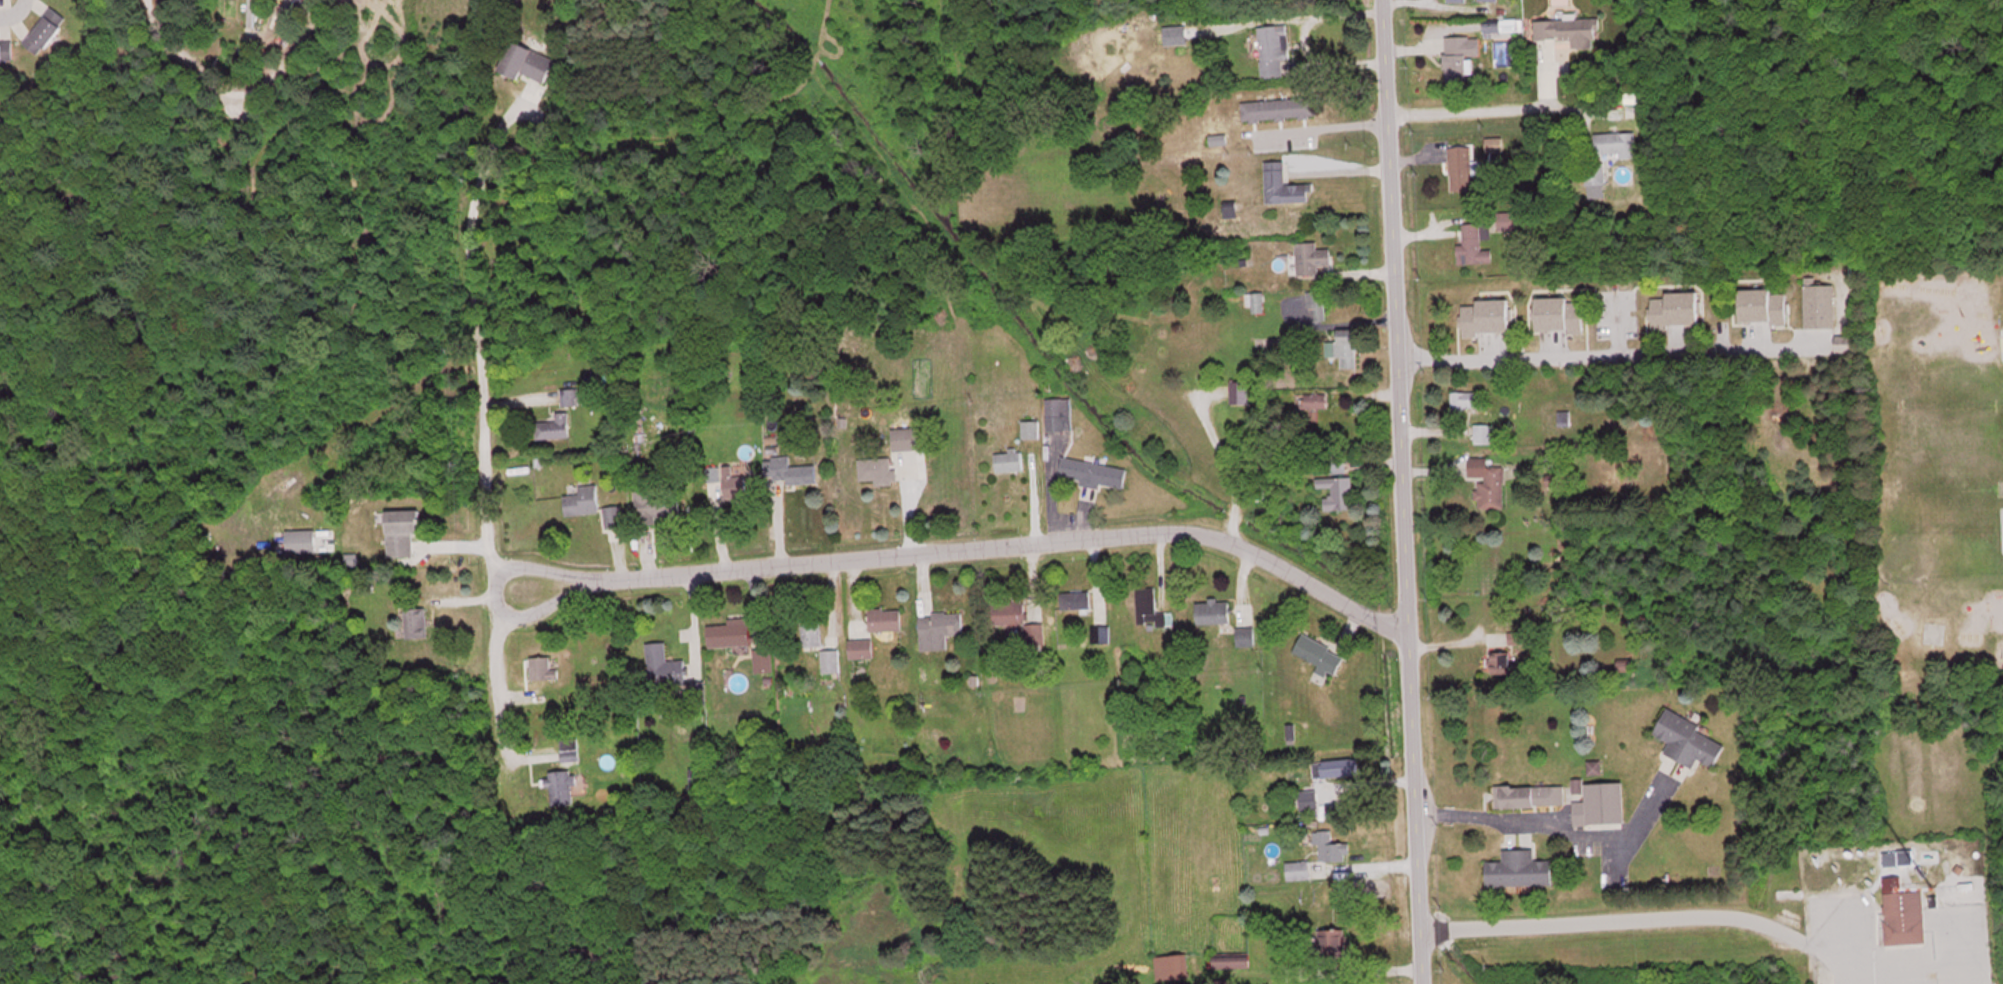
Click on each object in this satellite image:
building: (1455, 0)
road: (13, 11)
building: (44, 30)
building: (1568, 30)
building: (1165, 34)
building: (1273, 48)
building: (5, 51)
building: (1460, 56)
building: (527, 61)
building: (1278, 108)
road: (1491, 115)
road: (1318, 132)
building: (1616, 142)
building: (1202, 164)
building: (1460, 167)
building: (1594, 172)
road: (1338, 174)
building: (1281, 184)
building: (1472, 244)
road: (468, 252)
building: (1312, 257)
building: (1255, 301)
building: (1819, 304)
building: (1316, 305)
building: (1764, 305)
building: (1677, 308)
building: (1560, 313)
building: (1486, 316)
building: (1846, 342)
building: (1344, 347)
road: (1609, 360)
building: (1239, 391)
building: (567, 395)
building: (1315, 399)
building: (1466, 399)
building: (1059, 413)
building: (553, 425)
building: (904, 438)
building: (1009, 460)
building: (1335, 462)
building: (877, 469)
building: (791, 470)
building: (1093, 472)
building: (712, 473)
building: (1488, 481)
building: (736, 483)
building: (1337, 491)
road: (1396, 491)
building: (583, 499)
building: (653, 502)
building: (613, 515)
building: (401, 530)
road: (952, 547)
road: (481, 595)
building: (1076, 599)
building: (1149, 607)
building: (1213, 610)
building: (885, 618)
building: (1017, 619)
building: (415, 621)
building: (938, 628)
building: (811, 629)
building: (729, 632)
building: (1245, 635)
building: (1516, 636)
building: (860, 647)
building: (1320, 654)
building: (763, 659)
building: (830, 660)
building: (1502, 661)
building: (542, 667)
building: (671, 671)
building: (1690, 740)
building: (1333, 767)
building: (1528, 795)
building: (1599, 802)
road: (1552, 814)
building: (1330, 847)
building: (1520, 869)
building: (1298, 870)
building: (1902, 913)
building: (1333, 944)
building: (1232, 961)
building: (1178, 966)
road: (1439, 972)
road: (1919, 972)

